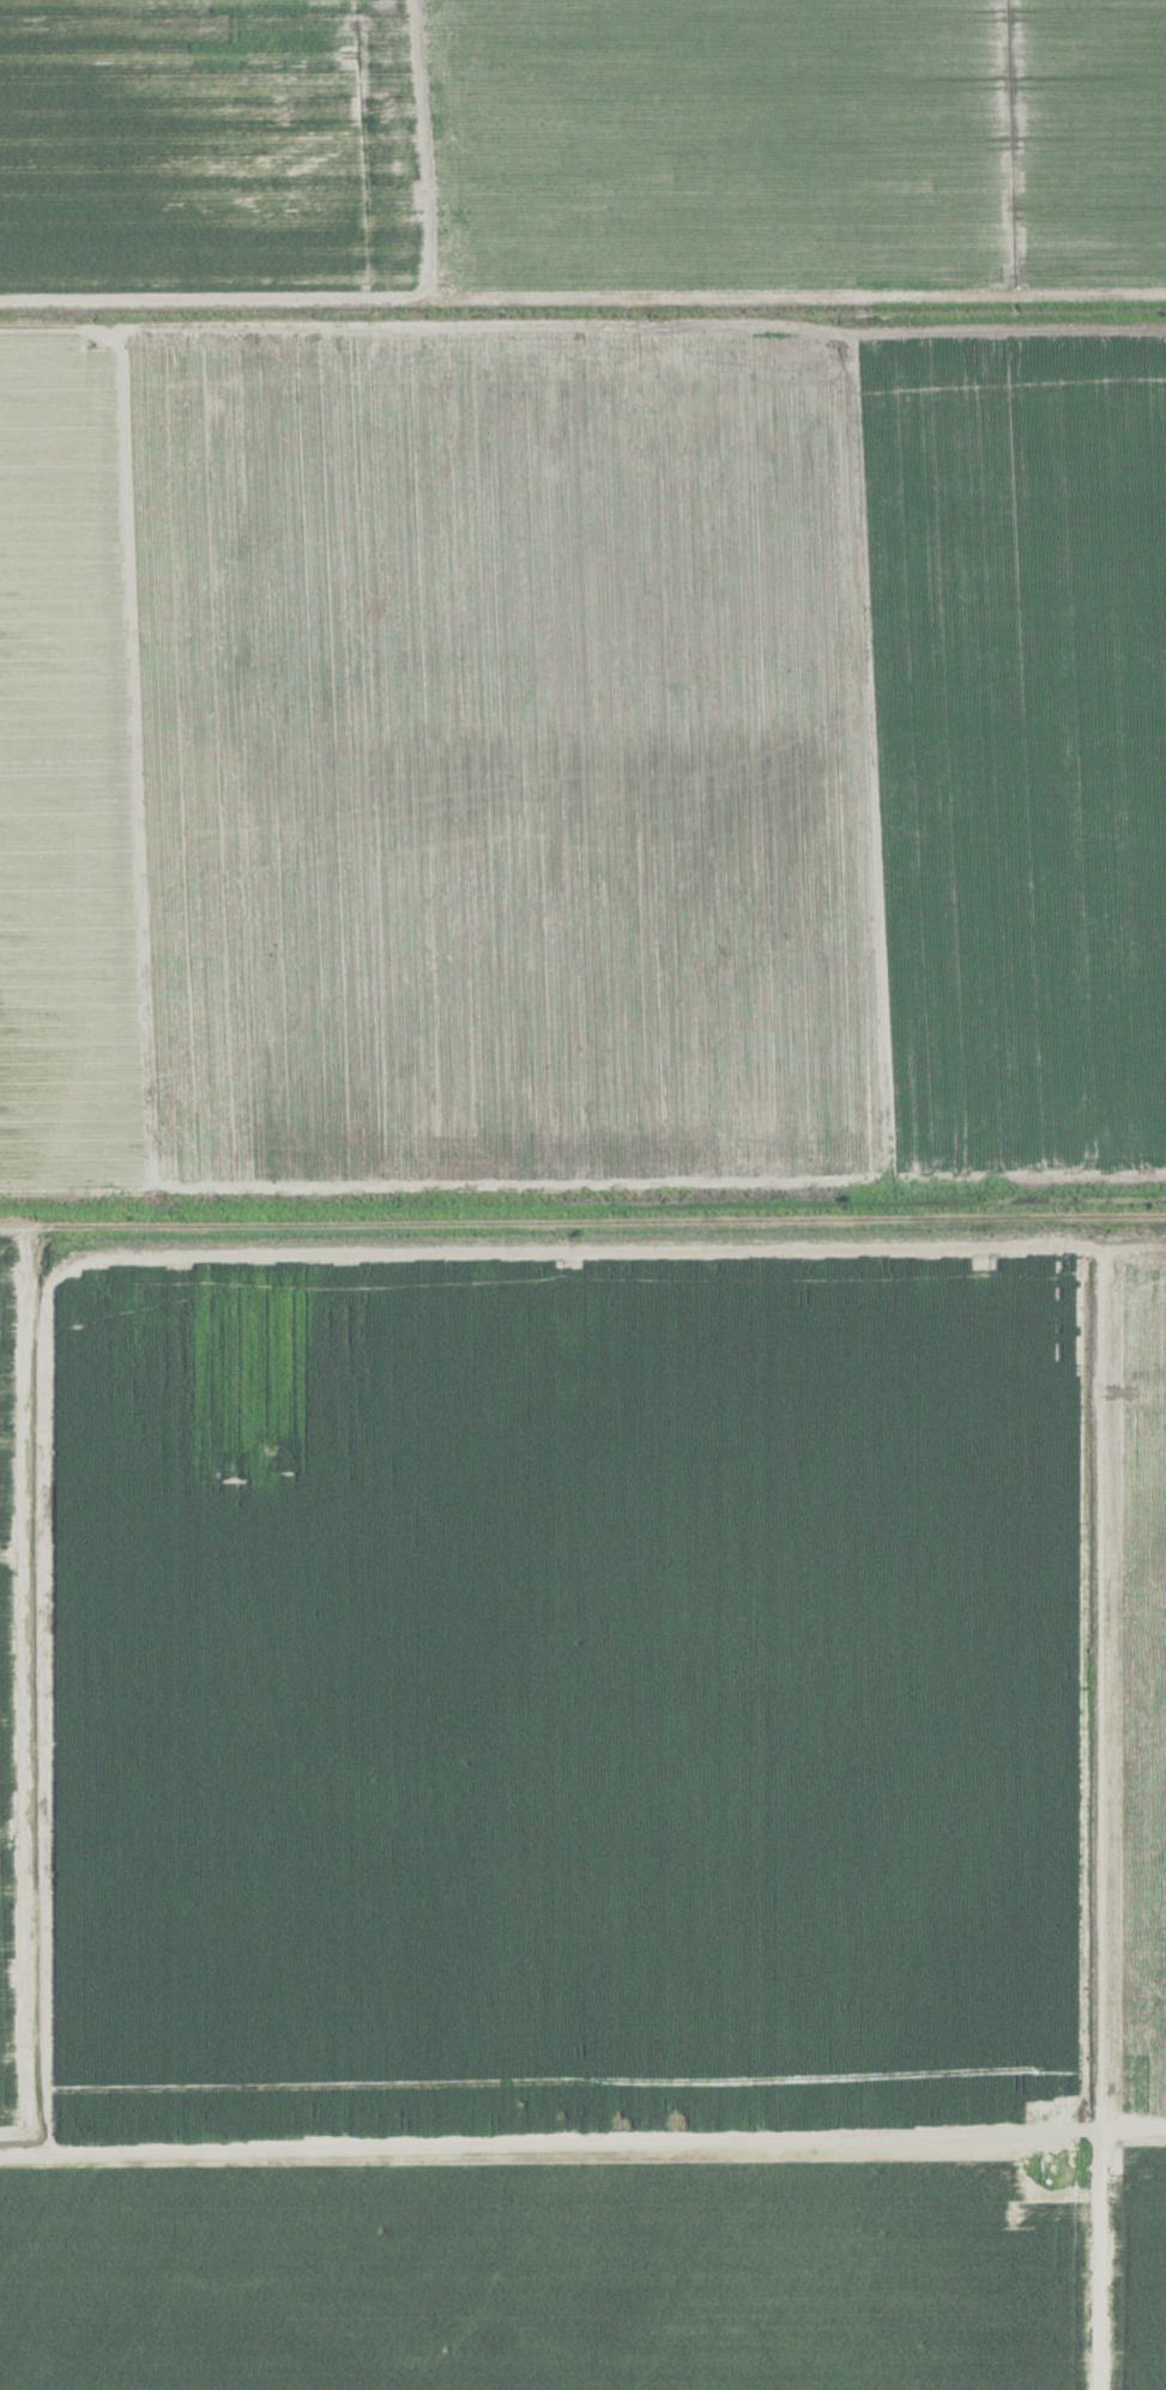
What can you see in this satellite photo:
road: (548, 2136)
road: (512, 2263)

